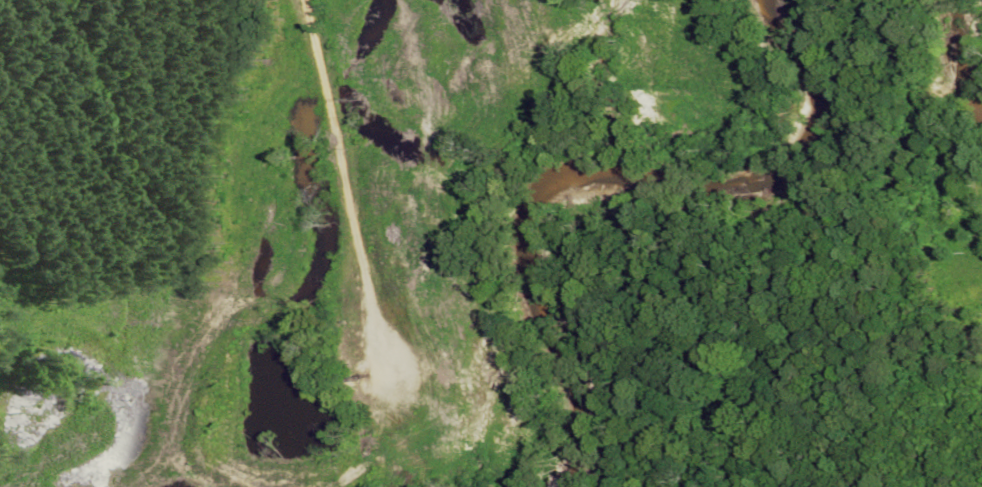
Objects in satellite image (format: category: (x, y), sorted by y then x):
river: (959, 56)
river: (599, 170)
road: (343, 177)

